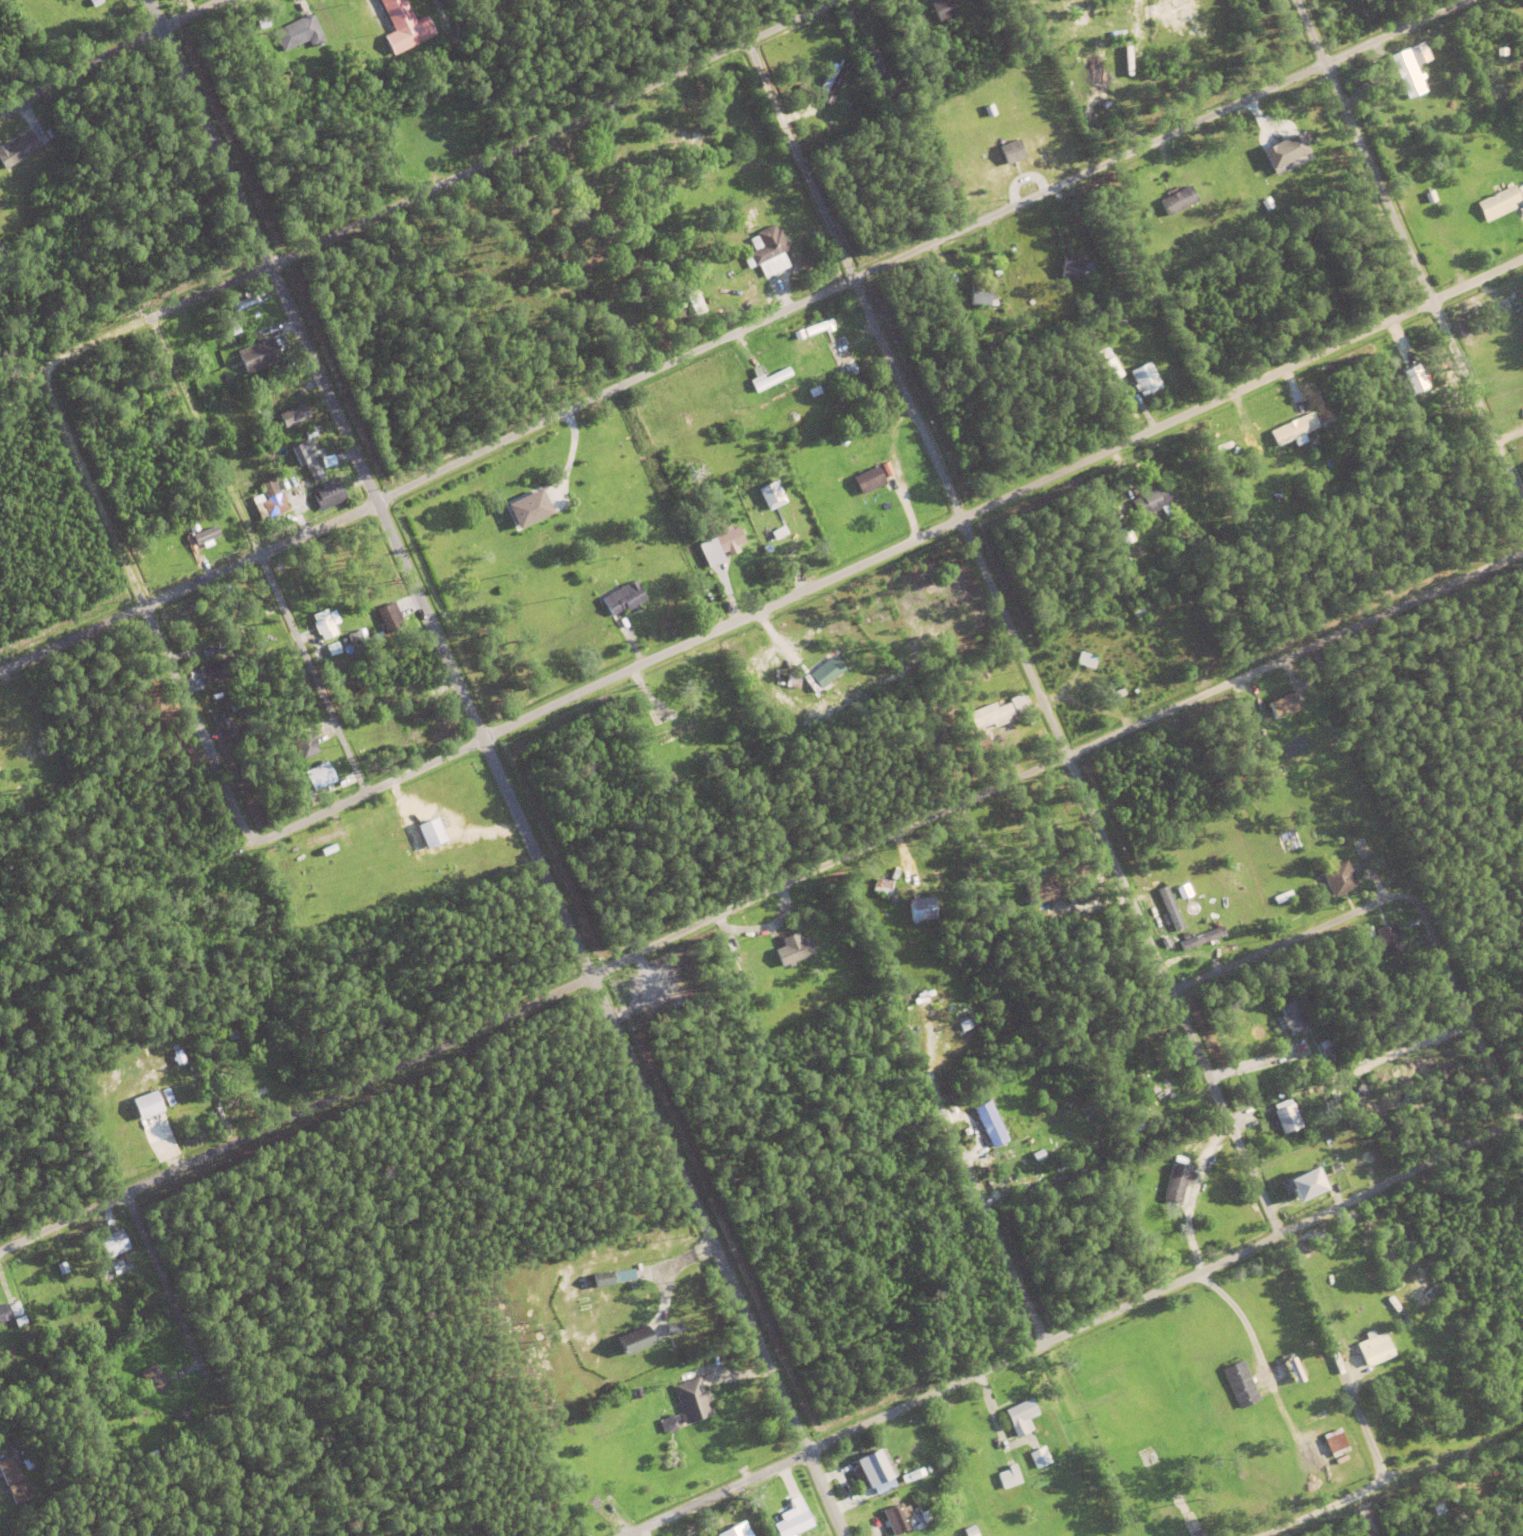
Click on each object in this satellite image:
building: (94, 2)
building: (942, 9)
building: (262, 23)
building: (405, 26)
building: (871, 27)
building: (858, 28)
building: (299, 33)
building: (1107, 34)
building: (332, 41)
road: (149, 42)
building: (268, 42)
building: (380, 47)
building: (1419, 53)
building: (874, 62)
building: (1407, 73)
building: (833, 82)
building: (853, 107)
building: (32, 120)
building: (25, 131)
building: (51, 132)
building: (1284, 150)
building: (1011, 151)
building: (12, 153)
building: (1291, 164)
road: (476, 169)
building: (1430, 197)
building: (1178, 200)
building: (1499, 203)
building: (179, 225)
building: (768, 245)
building: (997, 247)
road: (1411, 256)
building: (1071, 268)
building: (997, 273)
building: (958, 279)
building: (947, 288)
building: (980, 295)
building: (242, 302)
building: (694, 302)
building: (1224, 306)
building: (271, 315)
building: (818, 328)
building: (798, 334)
road: (734, 335)
building: (1085, 335)
building: (989, 345)
building: (229, 351)
building: (258, 356)
building: (817, 356)
building: (841, 359)
building: (288, 360)
building: (225, 364)
building: (1108, 365)
building: (229, 378)
building: (771, 380)
building: (1145, 380)
building: (1413, 380)
building: (814, 392)
building: (308, 410)
building: (1327, 413)
building: (291, 415)
building: (1330, 427)
building: (1293, 429)
building: (873, 431)
building: (853, 432)
building: (310, 433)
building: (841, 439)
building: (877, 445)
building: (1219, 450)
building: (307, 458)
building: (843, 460)
building: (779, 467)
building: (868, 481)
building: (304, 483)
building: (329, 494)
building: (770, 494)
building: (797, 497)
building: (1152, 502)
building: (271, 507)
building: (706, 508)
building: (527, 509)
building: (691, 511)
building: (1121, 512)
building: (772, 518)
building: (283, 519)
building: (201, 533)
building: (767, 533)
road: (250, 534)
building: (1124, 534)
building: (1128, 542)
building: (1170, 542)
building: (1203, 543)
building: (721, 547)
building: (766, 550)
building: (183, 554)
building: (171, 558)
road: (869, 564)
building: (154, 573)
building: (713, 576)
building: (624, 598)
building: (267, 614)
building: (1138, 614)
building: (653, 615)
building: (389, 619)
building: (323, 625)
building: (357, 636)
building: (376, 638)
building: (264, 641)
building: (1088, 652)
building: (253, 653)
building: (317, 654)
building: (1115, 660)
building: (1085, 661)
building: (231, 665)
building: (213, 672)
building: (824, 675)
building: (1092, 679)
building: (792, 682)
building: (1119, 693)
building: (219, 700)
building: (1017, 703)
building: (235, 707)
building: (1283, 707)
building: (668, 717)
road: (165, 718)
building: (992, 718)
building: (1030, 721)
building: (678, 722)
building: (225, 727)
building: (18, 733)
building: (11, 739)
building: (239, 741)
building: (305, 747)
road: (1067, 761)
road: (495, 767)
building: (317, 776)
building: (667, 780)
building: (332, 783)
building: (307, 797)
building: (429, 833)
building: (1339, 880)
building: (882, 887)
building: (946, 889)
building: (1040, 892)
building: (1283, 899)
road: (758, 904)
building: (920, 908)
building: (1170, 910)
road: (1347, 918)
building: (1386, 925)
building: (1407, 926)
building: (1200, 940)
building: (764, 943)
building: (1165, 944)
building: (1392, 946)
building: (793, 951)
building: (1228, 954)
building: (755, 961)
building: (748, 984)
building: (915, 998)
building: (674, 1005)
road: (1463, 1009)
building: (654, 1013)
building: (1292, 1021)
building: (965, 1026)
building: (232, 1036)
building: (176, 1056)
building: (212, 1059)
building: (1147, 1068)
building: (1118, 1069)
building: (1184, 1071)
building: (1342, 1082)
building: (167, 1098)
building: (118, 1100)
building: (145, 1104)
building: (119, 1115)
building: (160, 1116)
building: (1283, 1122)
building: (139, 1126)
building: (990, 1126)
building: (1292, 1153)
building: (1187, 1159)
building: (1304, 1160)
building: (1014, 1170)
building: (1334, 1170)
building: (1304, 1183)
building: (1014, 1186)
building: (1176, 1186)
building: (1035, 1189)
building: (1010, 1208)
road: (977, 1218)
building: (111, 1243)
building: (882, 1253)
building: (62, 1270)
building: (115, 1271)
building: (621, 1274)
building: (902, 1275)
building: (600, 1278)
building: (85, 1285)
building: (919, 1288)
building: (75, 1291)
building: (13, 1310)
building: (3, 1316)
building: (20, 1324)
building: (673, 1325)
building: (635, 1336)
building: (27, 1339)
road: (1045, 1346)
building: (1374, 1346)
building: (1401, 1350)
road: (252, 1356)
building: (713, 1365)
building: (153, 1381)
building: (1241, 1384)
building: (1107, 1390)
building: (638, 1391)
building: (692, 1398)
building: (1252, 1410)
building: (1328, 1410)
building: (1021, 1414)
building: (1264, 1419)
building: (1455, 1419)
building: (1423, 1420)
building: (668, 1422)
building: (1428, 1435)
building: (1354, 1438)
building: (1023, 1440)
building: (1336, 1440)
building: (3, 1446)
building: (900, 1453)
building: (1039, 1455)
building: (53, 1458)
building: (873, 1464)
building: (1009, 1474)
building: (899, 1479)
building: (0, 1481)
building: (14, 1483)
building: (614, 1504)
building: (956, 1504)
building: (1167, 1507)
building: (608, 1511)
road: (1336, 1511)
building: (904, 1518)
building: (929, 1521)
building: (1194, 1521)
building: (793, 1522)
building: (879, 1530)
building: (969, 1530)
building: (740, 1532)

